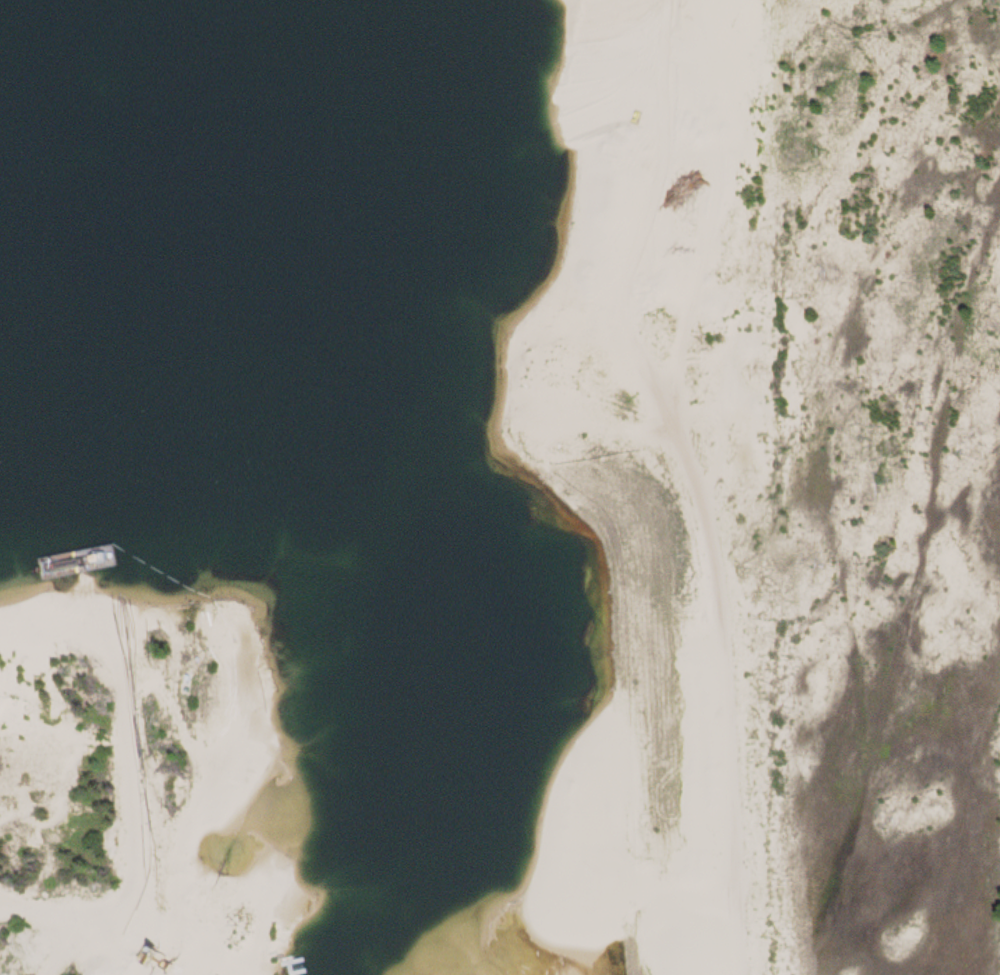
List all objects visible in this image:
park: (500, 487)

